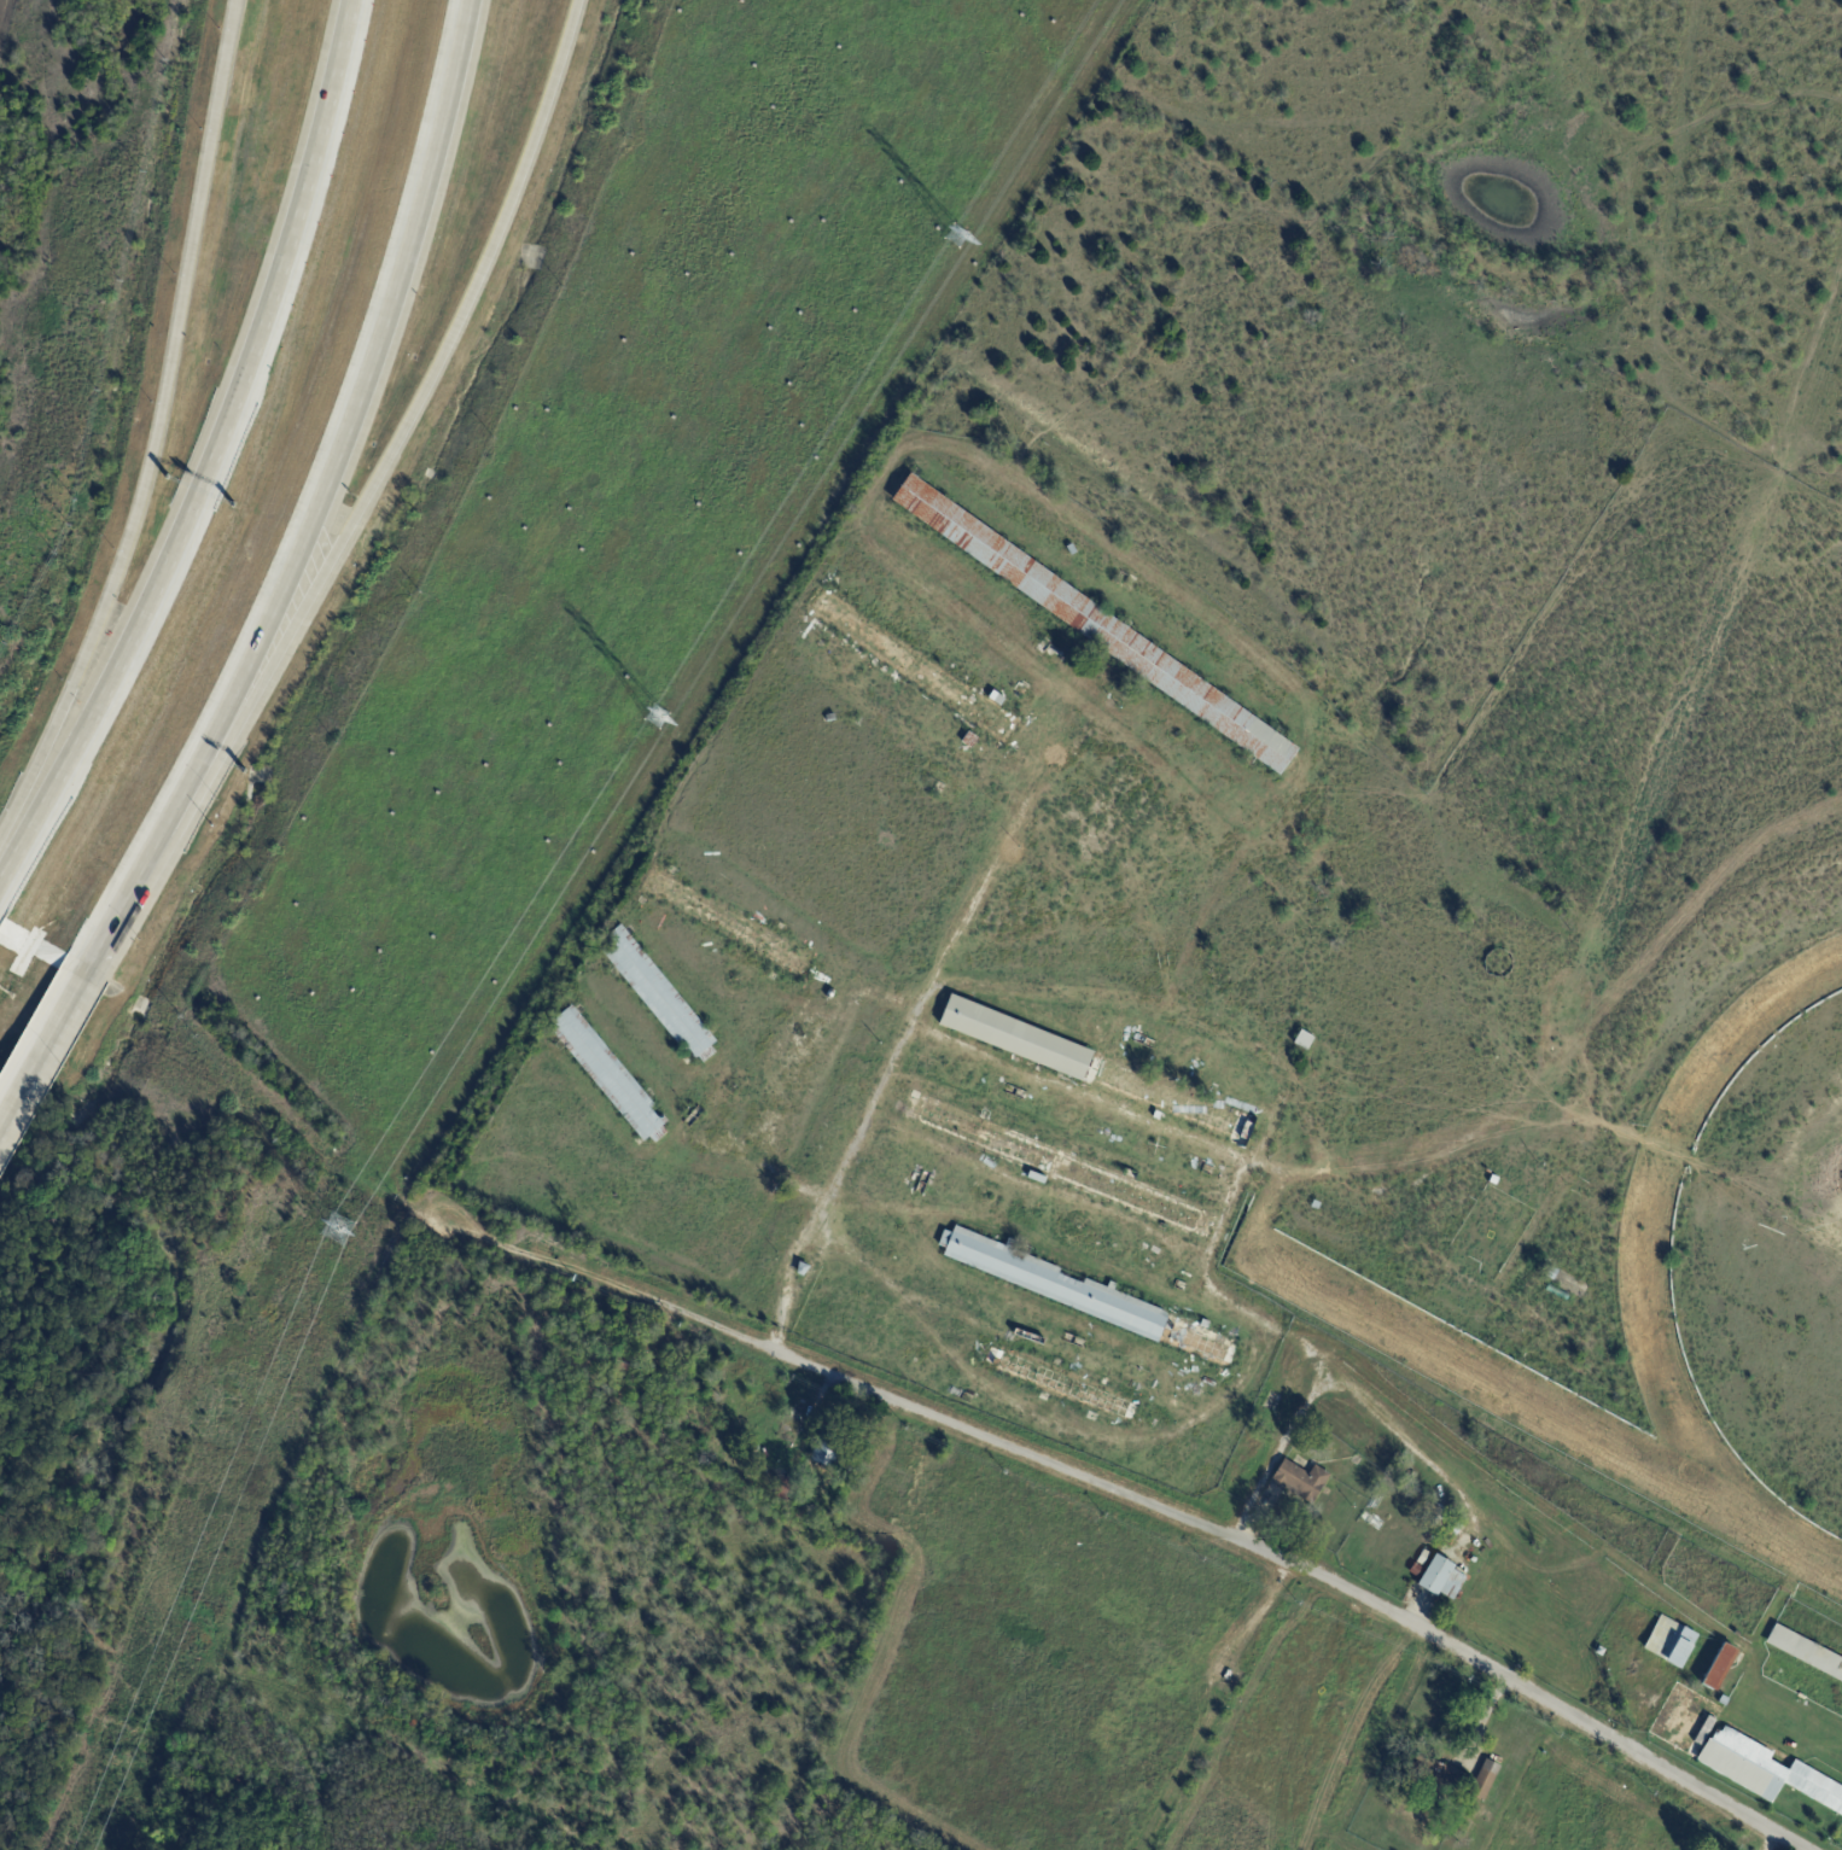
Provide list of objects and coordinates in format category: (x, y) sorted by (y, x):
power tower: (952, 237)
road: (361, 393)
road: (419, 399)
road: (151, 444)
road: (214, 455)
building: (1077, 553)
building: (1096, 625)
building: (916, 669)
building: (1107, 704)
power tower: (654, 716)
building: (858, 722)
building: (969, 741)
road: (146, 865)
building: (728, 923)
building: (658, 994)
building: (830, 994)
building: (1305, 1040)
road: (47, 1047)
building: (1100, 1070)
building: (610, 1075)
building: (1061, 1167)
building: (1493, 1180)
track: (1656, 1200)
building: (1312, 1220)
power tower: (334, 1226)
building: (803, 1270)
building: (1552, 1273)
road: (604, 1285)
building: (1558, 1291)
building: (1091, 1298)
road: (1294, 1335)
building: (571, 1336)
building: (590, 1352)
building: (623, 1368)
building: (646, 1370)
building: (1063, 1384)
track: (1550, 1411)
road: (1002, 1446)
building: (827, 1448)
building: (1302, 1480)
building: (786, 1489)
building: (1457, 1525)
building: (1423, 1558)
building: (1416, 1570)
building: (1442, 1578)
building: (1673, 1644)
building: (1602, 1652)
building: (1807, 1652)
building: (1720, 1668)
road: (1526, 1689)
building: (1726, 1702)
building: (1736, 1751)
building: (1429, 1774)
building: (1486, 1781)
building: (142, 1845)

